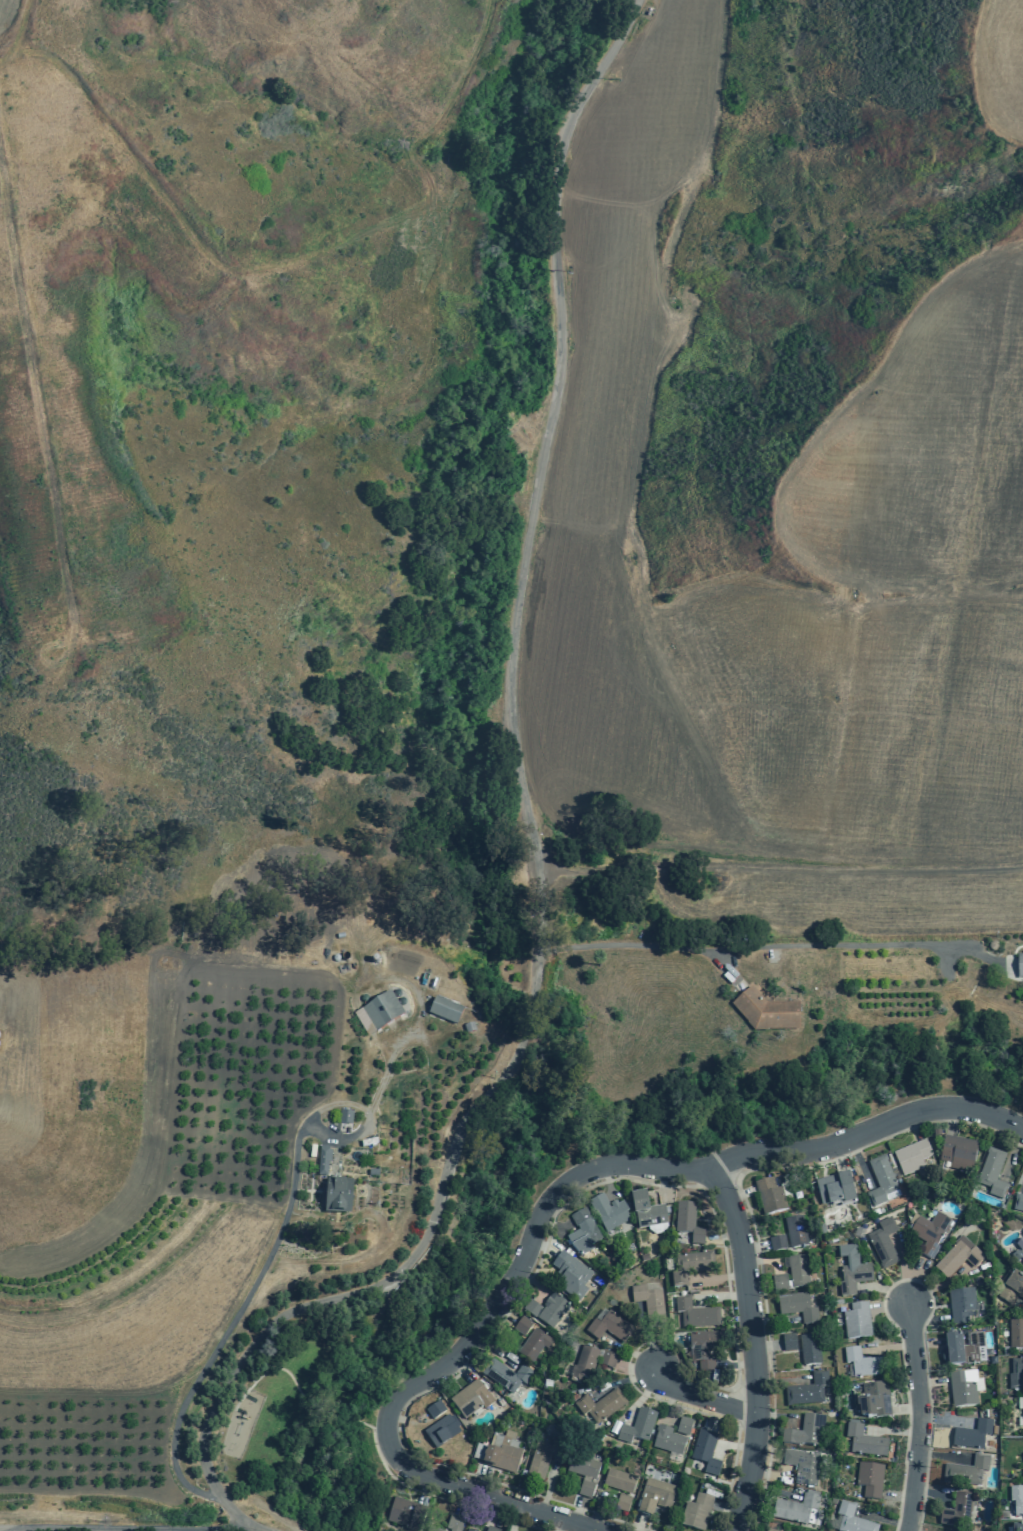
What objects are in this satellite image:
crop: (1001, 70)
crop: (76, 381)
road: (41, 409)
crop: (771, 594)
road: (525, 821)
road: (768, 943)
building: (1020, 966)
building: (443, 1012)
building: (766, 1012)
building: (380, 1014)
building: (345, 1117)
road: (952, 1120)
road: (911, 1126)
road: (870, 1129)
building: (957, 1153)
road: (1011, 1153)
road: (836, 1157)
building: (911, 1157)
building: (323, 1161)
road: (859, 1162)
building: (992, 1173)
road: (608, 1180)
road: (637, 1181)
road: (718, 1181)
building: (881, 1182)
road: (666, 1183)
building: (835, 1189)
road: (738, 1193)
building: (769, 1196)
building: (333, 1197)
building: (1018, 1203)
road: (745, 1204)
building: (646, 1211)
building: (608, 1212)
building: (687, 1222)
road: (553, 1226)
building: (582, 1232)
building: (795, 1232)
building: (929, 1233)
road: (722, 1236)
building: (1022, 1236)
building: (777, 1243)
building: (883, 1243)
road: (542, 1245)
road: (753, 1245)
building: (1017, 1255)
building: (957, 1256)
building: (643, 1257)
road: (759, 1260)
building: (690, 1266)
building: (852, 1270)
building: (797, 1271)
building: (570, 1275)
road: (718, 1277)
road: (905, 1279)
road: (907, 1280)
road: (914, 1280)
building: (779, 1282)
road: (533, 1283)
road: (944, 1284)
building: (1015, 1284)
road: (884, 1290)
road: (249, 1292)
building: (1007, 1295)
road: (721, 1296)
park: (437, 1297)
building: (648, 1302)
road: (889, 1304)
road: (1019, 1304)
building: (961, 1305)
building: (797, 1306)
building: (532, 1308)
building: (551, 1310)
road: (501, 1311)
building: (695, 1313)
road: (925, 1316)
road: (773, 1320)
building: (856, 1321)
building: (522, 1326)
building: (609, 1327)
building: (1015, 1333)
road: (645, 1337)
building: (788, 1342)
road: (926, 1342)
building: (534, 1344)
road: (766, 1346)
road: (888, 1346)
road: (490, 1347)
road: (753, 1347)
building: (703, 1348)
building: (809, 1348)
building: (963, 1349)
road: (457, 1353)
road: (630, 1353)
building: (607, 1360)
building: (862, 1362)
building: (583, 1364)
road: (736, 1365)
road: (283, 1367)
road: (462, 1367)
road: (635, 1367)
building: (1016, 1374)
building: (505, 1375)
road: (746, 1377)
road: (778, 1379)
road: (625, 1380)
road: (930, 1381)
building: (547, 1383)
building: (964, 1388)
building: (808, 1391)
road: (642, 1395)
road: (699, 1397)
building: (470, 1398)
building: (874, 1400)
building: (1022, 1400)
road: (722, 1403)
building: (600, 1406)
road: (672, 1406)
road: (906, 1408)
road: (336, 1413)
road: (920, 1416)
road: (777, 1417)
road: (405, 1420)
road: (945, 1420)
road: (357, 1422)
building: (637, 1426)
building: (684, 1426)
building: (440, 1430)
road: (892, 1430)
building: (805, 1431)
building: (972, 1434)
road: (747, 1438)
building: (668, 1440)
building: (864, 1441)
road: (730, 1446)
building: (499, 1452)
building: (705, 1452)
building: (1022, 1454)
road: (941, 1455)
building: (539, 1461)
building: (802, 1465)
building: (582, 1466)
building: (966, 1471)
road: (766, 1474)
road: (482, 1479)
building: (869, 1479)
building: (619, 1481)
road: (548, 1488)
road: (424, 1490)
road: (770, 1490)
road: (930, 1492)
road: (897, 1495)
building: (654, 1496)
road: (442, 1498)
building: (1016, 1499)
road: (461, 1500)
building: (622, 1503)
building: (799, 1510)
road: (578, 1511)
building: (957, 1511)
road: (497, 1512)
building: (696, 1512)
building: (405, 1515)
road: (518, 1518)
building: (850, 1520)
road: (885, 1520)
building: (453, 1522)
road: (246, 1523)
road: (557, 1524)
road: (638, 1524)
building: (1017, 1527)
building: (432, 1529)
building: (491, 1529)
building: (769, 1529)
road: (913, 1529)
road: (168, 1530)
building: (468, 1530)
road: (591, 1530)

